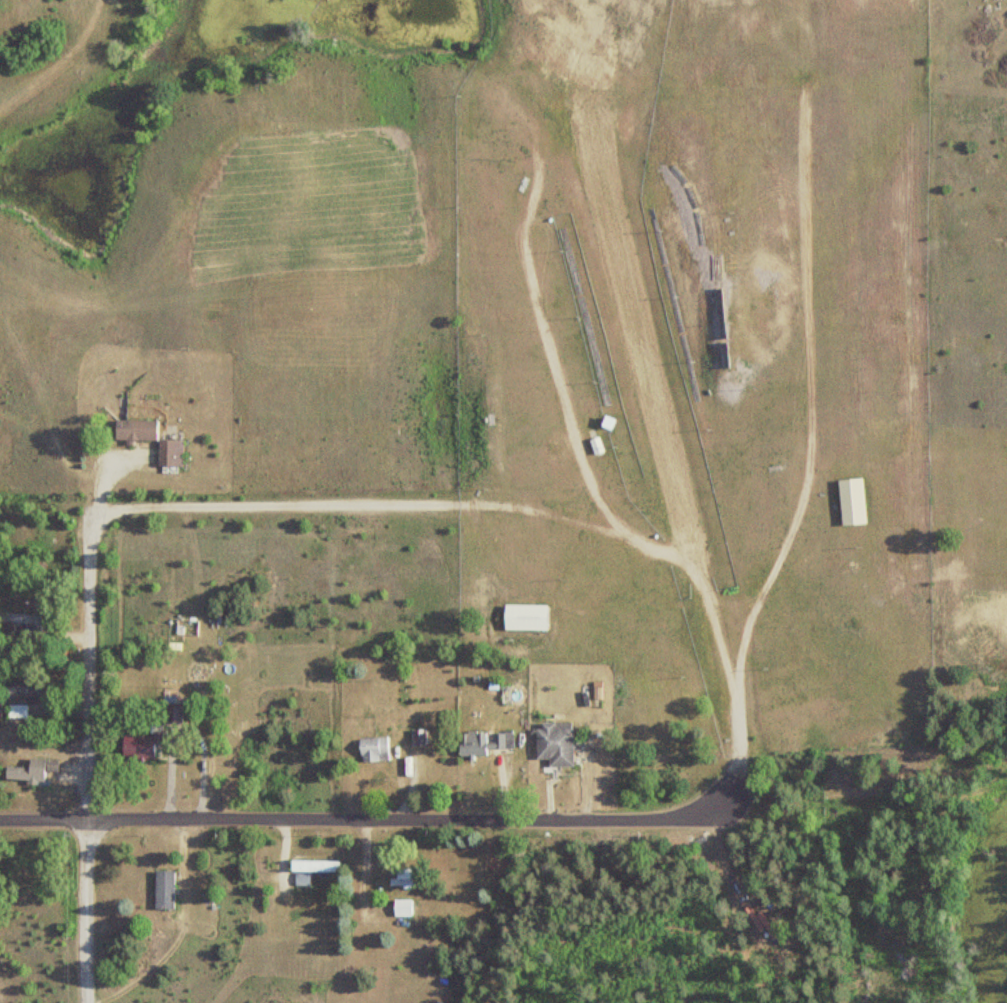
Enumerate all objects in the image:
building: (133, 429)
building: (168, 452)
building: (850, 501)
building: (523, 617)
building: (21, 621)
building: (20, 699)
building: (480, 743)
building: (552, 744)
building: (135, 747)
building: (372, 749)
building: (30, 770)
road: (82, 772)
road: (357, 820)
building: (311, 866)
building: (401, 877)
building: (300, 881)
building: (162, 890)
building: (400, 908)

